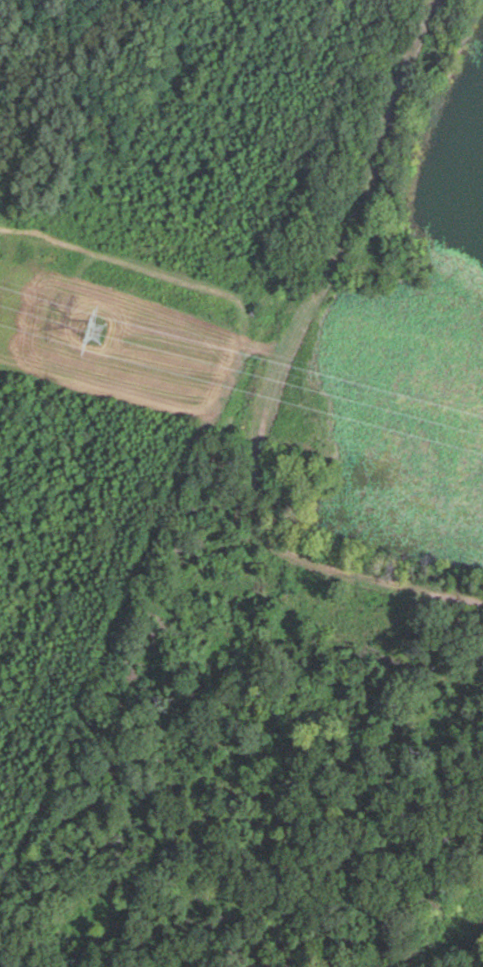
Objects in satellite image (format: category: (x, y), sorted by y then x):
power tower: (106, 334)
road: (300, 369)

